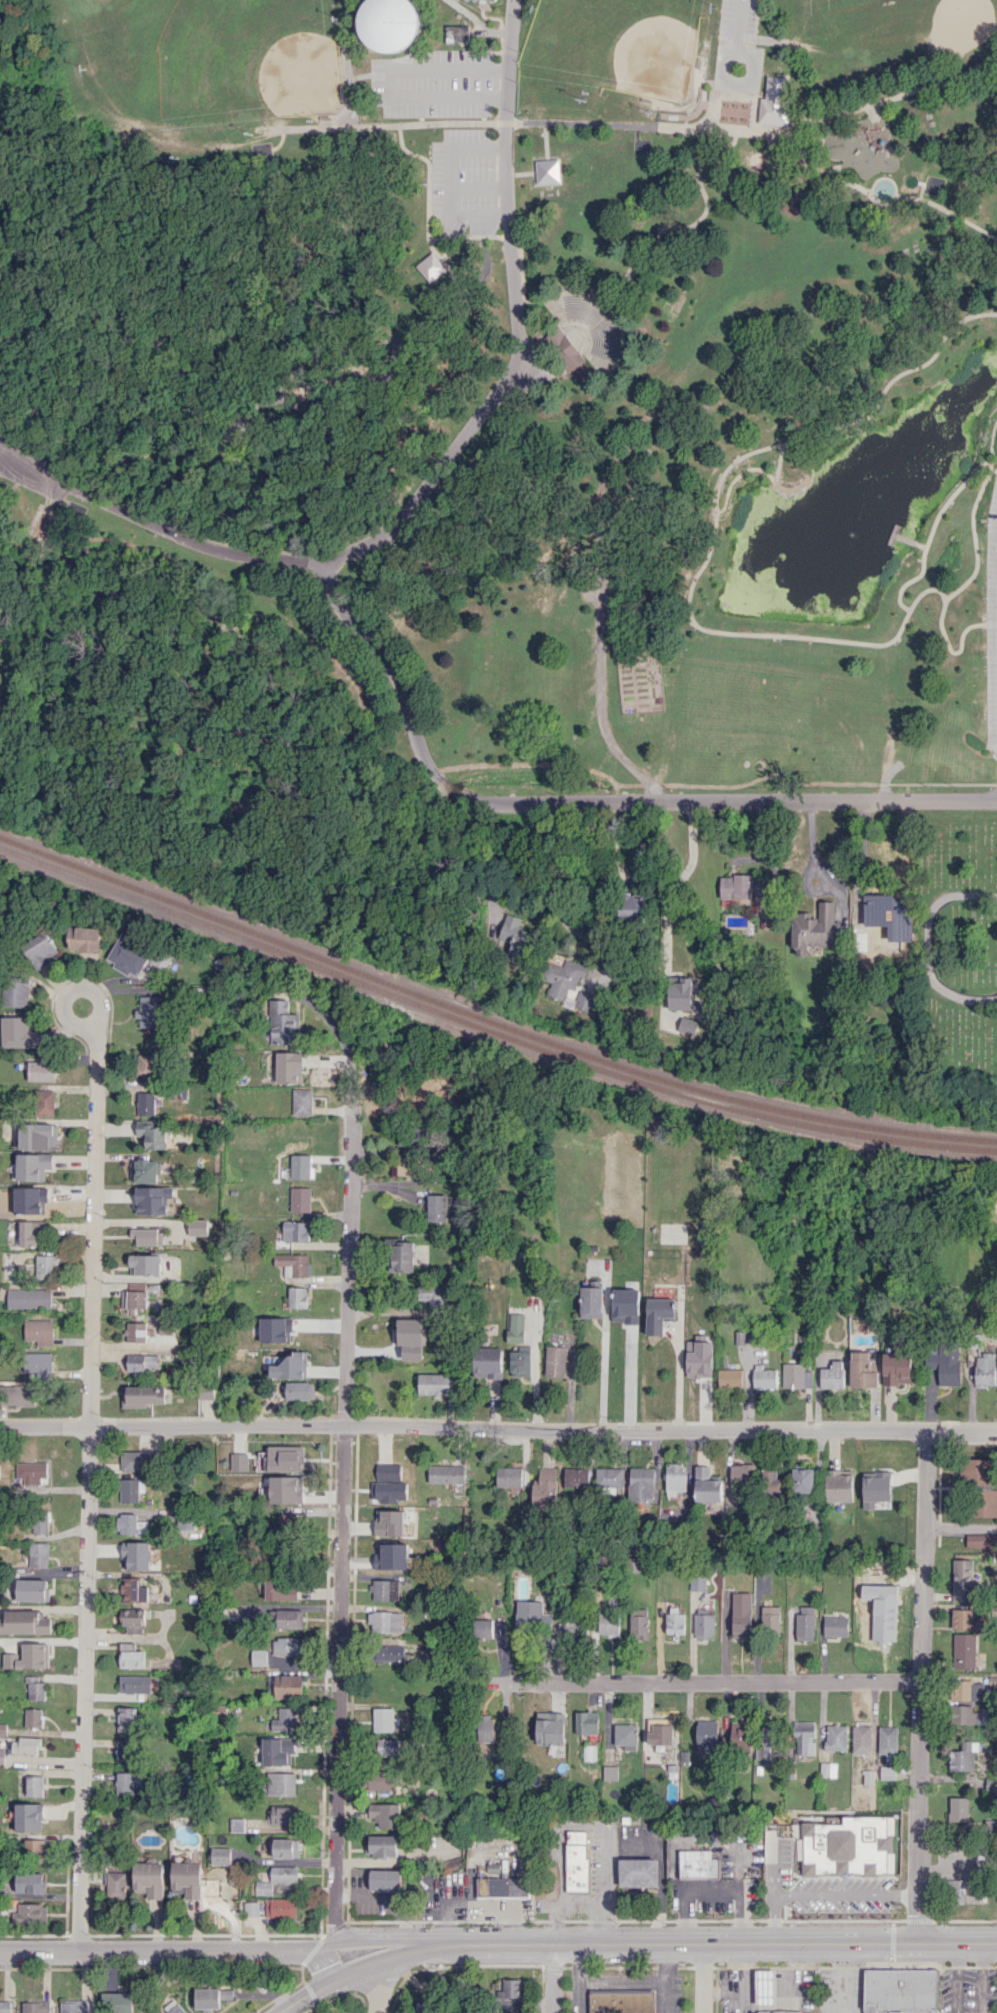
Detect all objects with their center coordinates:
park: (836, 3)
road: (738, 18)
parking lot: (739, 20)
building: (390, 24)
storage tank: (390, 24)
building: (456, 33)
park: (614, 59)
park: (213, 60)
road: (394, 84)
parking lot: (434, 84)
building: (774, 100)
road: (859, 108)
road: (501, 123)
parking lot: (466, 178)
road: (428, 201)
road: (885, 201)
road: (688, 225)
building: (429, 265)
road: (516, 322)
building: (588, 329)
road: (394, 347)
park: (494, 402)
building: (236, 431)
road: (993, 439)
road: (996, 457)
road: (778, 462)
road: (754, 468)
parking lot: (33, 472)
road: (155, 524)
road: (974, 534)
road: (690, 590)
parking lot: (992, 622)
road: (943, 631)
road: (601, 704)
road: (589, 800)
road: (860, 855)
road: (503, 865)
road: (675, 878)
building: (742, 886)
road: (563, 895)
building: (632, 907)
building: (882, 909)
building: (813, 928)
building: (514, 934)
building: (83, 938)
building: (41, 950)
park: (957, 951)
building: (128, 956)
building: (562, 976)
road: (85, 988)
building: (16, 991)
building: (679, 993)
building: (586, 1001)
building: (150, 1012)
railway: (490, 1019)
building: (282, 1023)
building: (686, 1026)
railway: (490, 1029)
building: (17, 1031)
building: (145, 1065)
building: (288, 1067)
building: (42, 1069)
building: (302, 1101)
building: (44, 1102)
building: (146, 1103)
building: (153, 1135)
building: (38, 1136)
building: (404, 1165)
building: (33, 1166)
building: (299, 1166)
building: (145, 1170)
building: (153, 1199)
building: (300, 1199)
building: (39, 1201)
building: (437, 1207)
building: (198, 1227)
building: (296, 1231)
building: (33, 1232)
building: (147, 1236)
building: (402, 1256)
building: (294, 1263)
building: (145, 1264)
building: (45, 1265)
building: (433, 1294)
building: (298, 1297)
building: (29, 1298)
building: (134, 1300)
building: (591, 1302)
building: (659, 1314)
building: (166, 1327)
building: (516, 1327)
building: (39, 1331)
building: (135, 1331)
building: (625, 1343)
building: (699, 1359)
building: (141, 1362)
building: (555, 1362)
building: (488, 1363)
building: (521, 1363)
building: (38, 1364)
road: (604, 1364)
building: (945, 1364)
building: (896, 1368)
building: (984, 1369)
building: (863, 1370)
building: (832, 1375)
building: (796, 1376)
road: (678, 1377)
building: (730, 1377)
building: (764, 1379)
building: (435, 1383)
building: (299, 1390)
building: (18, 1394)
building: (206, 1394)
building: (142, 1395)
road: (498, 1427)
building: (285, 1458)
building: (138, 1460)
building: (239, 1461)
building: (387, 1470)
building: (978, 1471)
building: (31, 1472)
building: (446, 1473)
building: (740, 1474)
building: (509, 1476)
building: (576, 1477)
building: (676, 1478)
building: (770, 1479)
building: (802, 1480)
building: (883, 1482)
building: (642, 1484)
building: (706, 1485)
building: (839, 1485)
road: (88, 1486)
building: (546, 1487)
building: (131, 1489)
building: (285, 1489)
building: (388, 1489)
building: (985, 1503)
road: (343, 1504)
building: (185, 1521)
building: (40, 1522)
building: (290, 1522)
building: (389, 1522)
building: (130, 1525)
road: (961, 1527)
building: (981, 1540)
building: (38, 1554)
building: (135, 1555)
building: (382, 1559)
building: (962, 1580)
building: (698, 1583)
building: (282, 1589)
building: (32, 1590)
building: (133, 1590)
building: (384, 1590)
building: (531, 1615)
building: (287, 1618)
building: (884, 1618)
building: (675, 1619)
building: (771, 1619)
building: (965, 1619)
building: (132, 1620)
building: (385, 1621)
building: (25, 1622)
building: (742, 1622)
building: (639, 1623)
building: (805, 1623)
building: (609, 1624)
building: (704, 1626)
building: (835, 1626)
building: (483, 1628)
building: (575, 1629)
building: (286, 1646)
building: (964, 1650)
building: (391, 1653)
building: (28, 1656)
building: (259, 1657)
road: (703, 1681)
building: (134, 1684)
building: (288, 1686)
road: (918, 1686)
building: (34, 1687)
building: (967, 1690)
building: (963, 1714)
building: (33, 1717)
building: (126, 1719)
building: (284, 1720)
building: (384, 1720)
building: (586, 1722)
building: (485, 1728)
building: (549, 1728)
building: (661, 1735)
building: (741, 1735)
building: (626, 1736)
building: (707, 1737)
building: (836, 1737)
building: (805, 1738)
building: (861, 1739)
building: (888, 1739)
building: (25, 1745)
building: (767, 1745)
building: (387, 1746)
building: (125, 1750)
building: (277, 1751)
building: (588, 1752)
building: (2, 1756)
building: (964, 1756)
building: (828, 1769)
building: (887, 1772)
building: (609, 1773)
building: (868, 1777)
building: (382, 1779)
building: (128, 1782)
building: (281, 1784)
building: (34, 1786)
building: (959, 1809)
building: (283, 1814)
building: (385, 1814)
building: (28, 1817)
building: (236, 1824)
building: (382, 1845)
building: (848, 1847)
building: (284, 1848)
building: (32, 1850)
parking lot: (646, 1851)
building: (220, 1855)
road: (560, 1862)
building: (577, 1862)
building: (698, 1864)
road: (769, 1869)
building: (638, 1872)
building: (284, 1874)
parking lot: (593, 1875)
building: (149, 1879)
building: (186, 1879)
building: (385, 1879)
parking lot: (724, 1879)
building: (29, 1882)
road: (606, 1884)
building: (115, 1885)
building: (503, 1886)
building: (263, 1888)
road: (713, 1892)
parking lot: (450, 1895)
road: (843, 1895)
road: (583, 1899)
building: (280, 1907)
building: (251, 1908)
building: (30, 1913)
road: (770, 1919)
road: (717, 1943)
road: (387, 1946)
road: (167, 1949)
road: (382, 1960)
road: (332, 1965)
road: (553, 1978)
road: (702, 1978)
road: (382, 1985)
building: (765, 1985)
building: (510, 1988)
parking lot: (764, 1990)
parking lot: (841, 1990)
building: (900, 1990)
parking lot: (967, 1990)
building: (211, 1997)
road: (302, 1997)
building: (621, 2001)
parking lot: (667, 2001)
building: (116, 2002)
building: (73, 2006)
building: (5, 2007)
building: (36, 2007)
building: (174, 2007)
building: (421, 2007)
building: (779, 2011)
gas station: (780, 2011)

